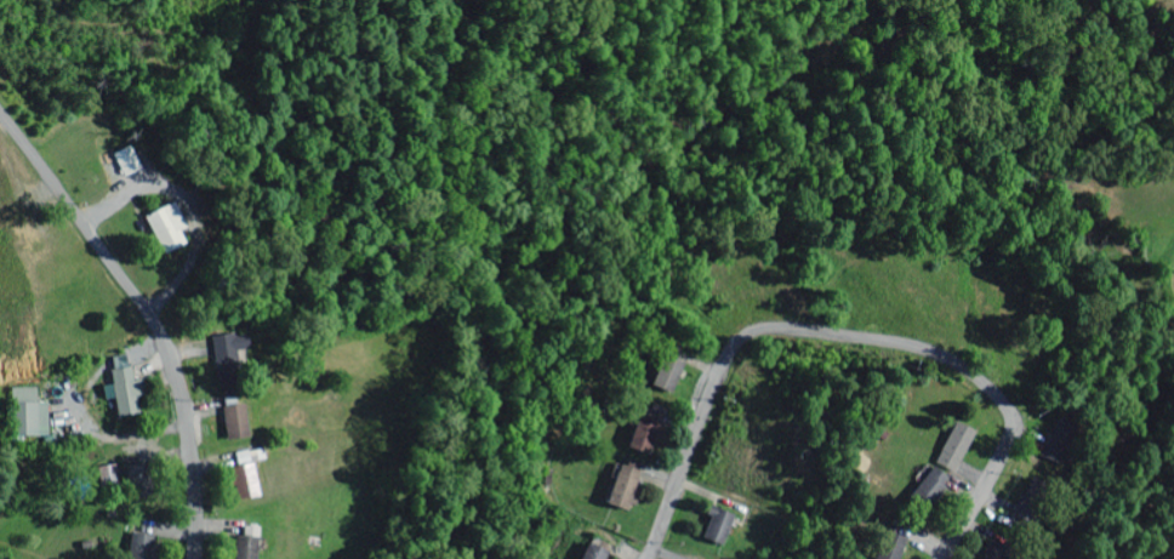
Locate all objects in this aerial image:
building: (131, 162)
building: (173, 228)
road: (115, 269)
road: (848, 332)
building: (234, 350)
building: (671, 375)
building: (131, 392)
building: (33, 418)
building: (241, 422)
building: (649, 437)
building: (959, 447)
building: (141, 478)
building: (112, 479)
building: (251, 480)
building: (935, 487)
building: (629, 489)
road: (193, 501)
building: (1033, 501)
building: (720, 526)
building: (899, 540)
building: (253, 542)
building: (146, 546)
building: (599, 551)
building: (993, 551)

